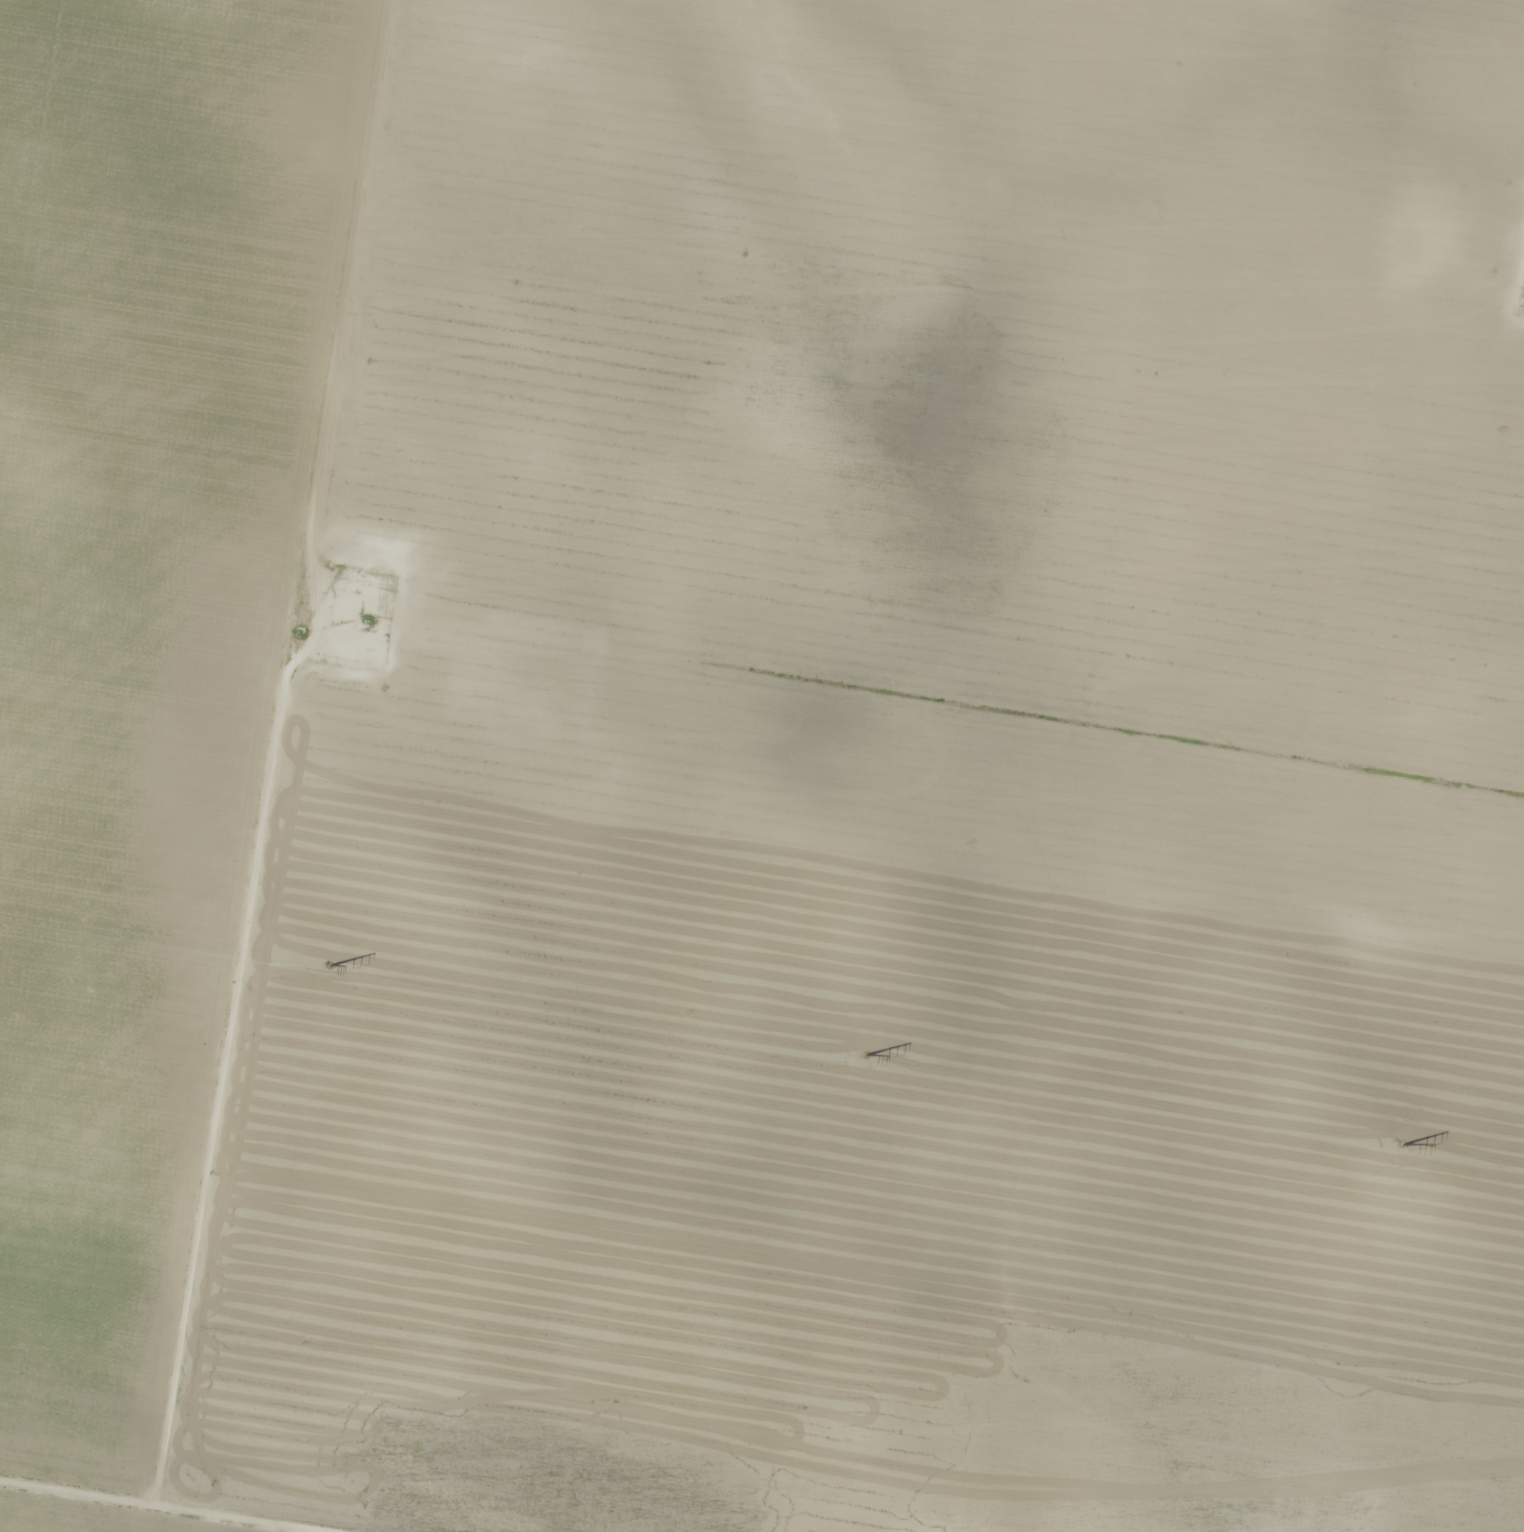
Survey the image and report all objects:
power tower: (335, 969)
power tower: (865, 1057)
power tower: (1404, 1147)
road: (183, 1503)

